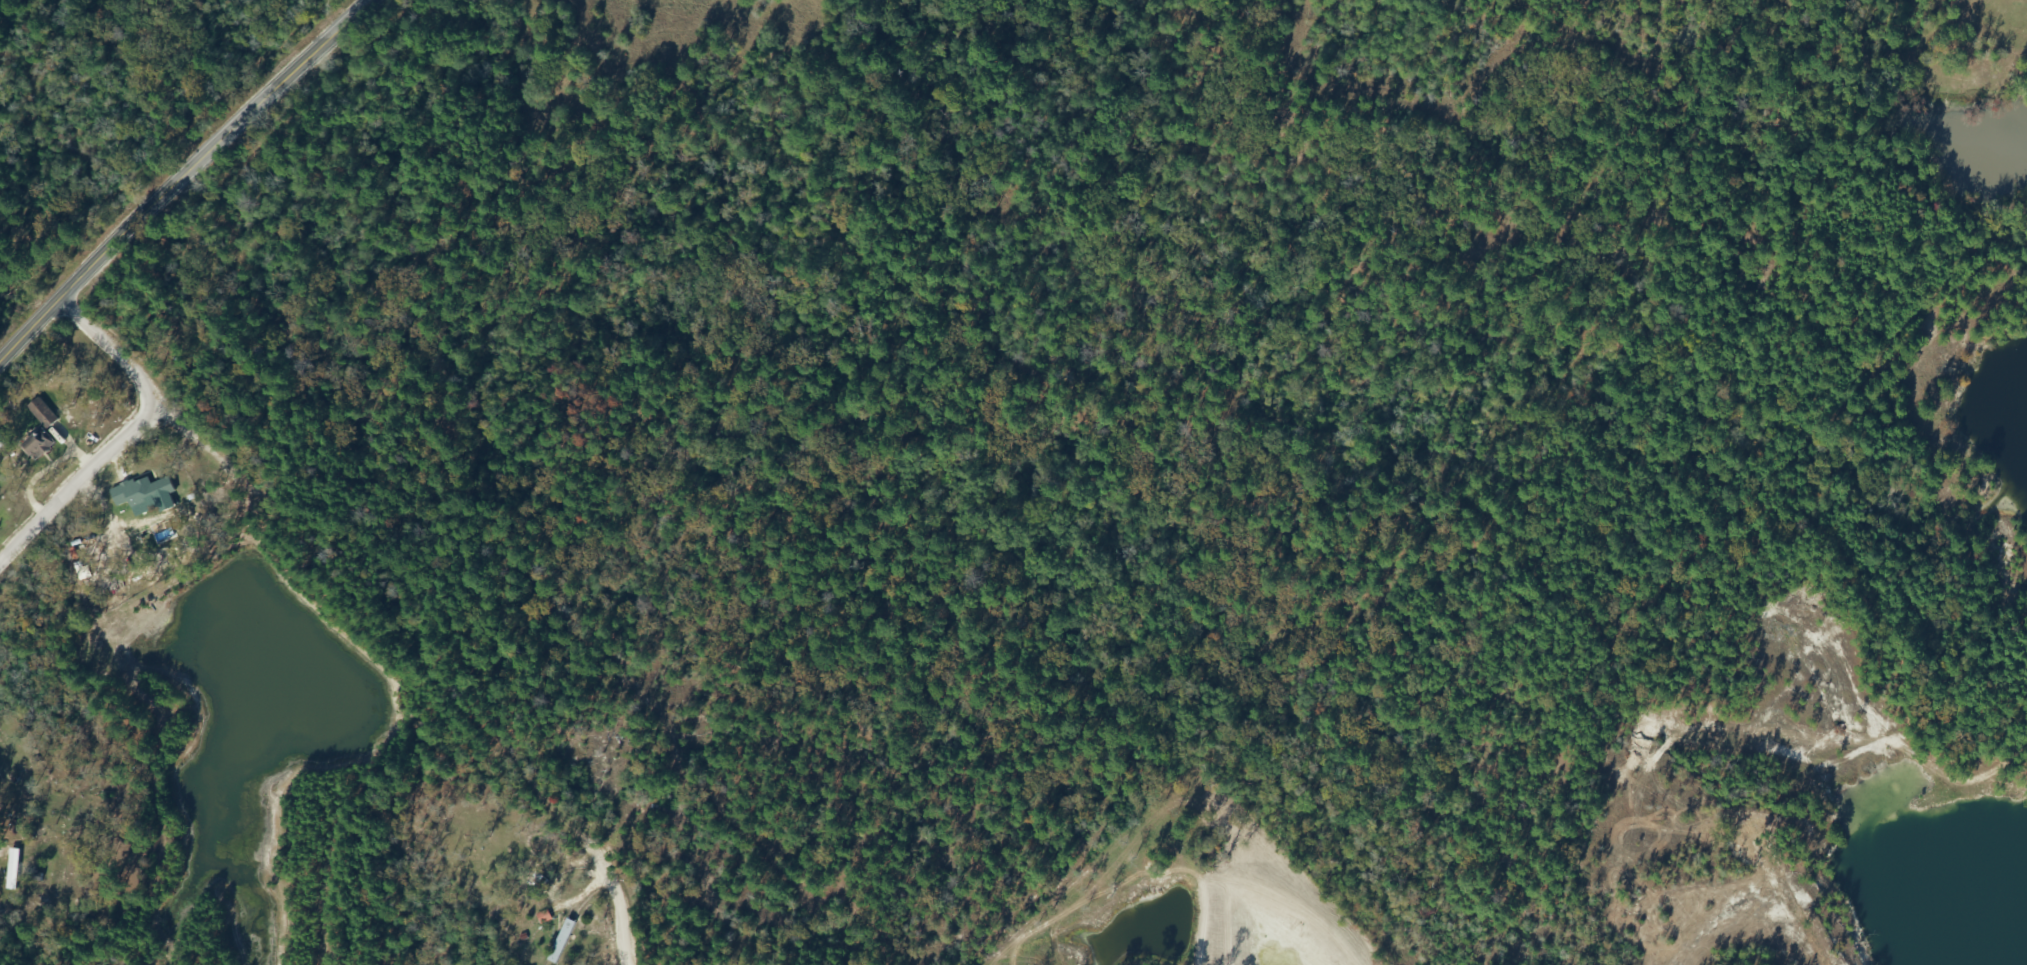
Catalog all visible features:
road: (182, 176)
road: (2006, 306)
road: (126, 434)
building: (34, 445)
building: (140, 492)
road: (2023, 668)
building: (24, 849)
road: (615, 903)
building: (560, 942)

